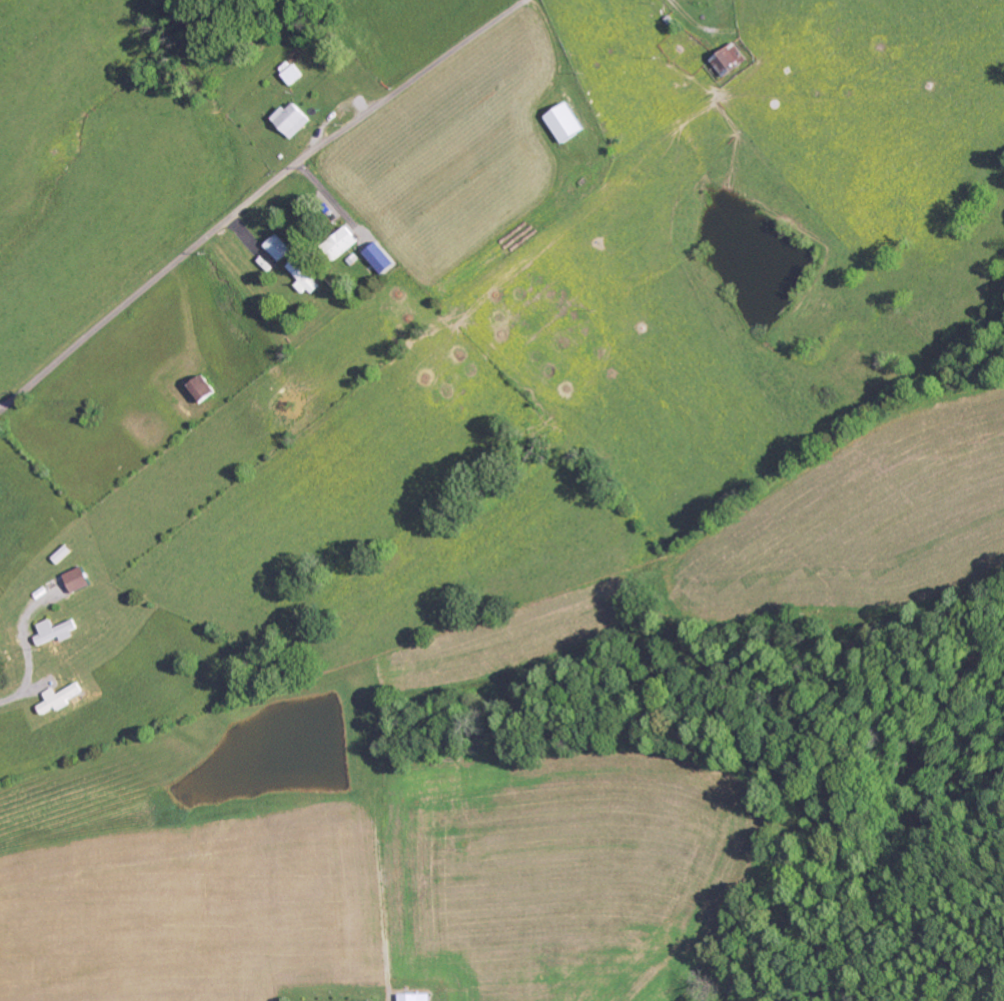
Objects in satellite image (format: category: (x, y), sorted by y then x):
building: (731, 60)
building: (293, 74)
building: (293, 119)
building: (568, 123)
road: (256, 196)
building: (344, 243)
building: (280, 247)
building: (382, 258)
building: (304, 277)
building: (79, 581)
building: (414, 998)

